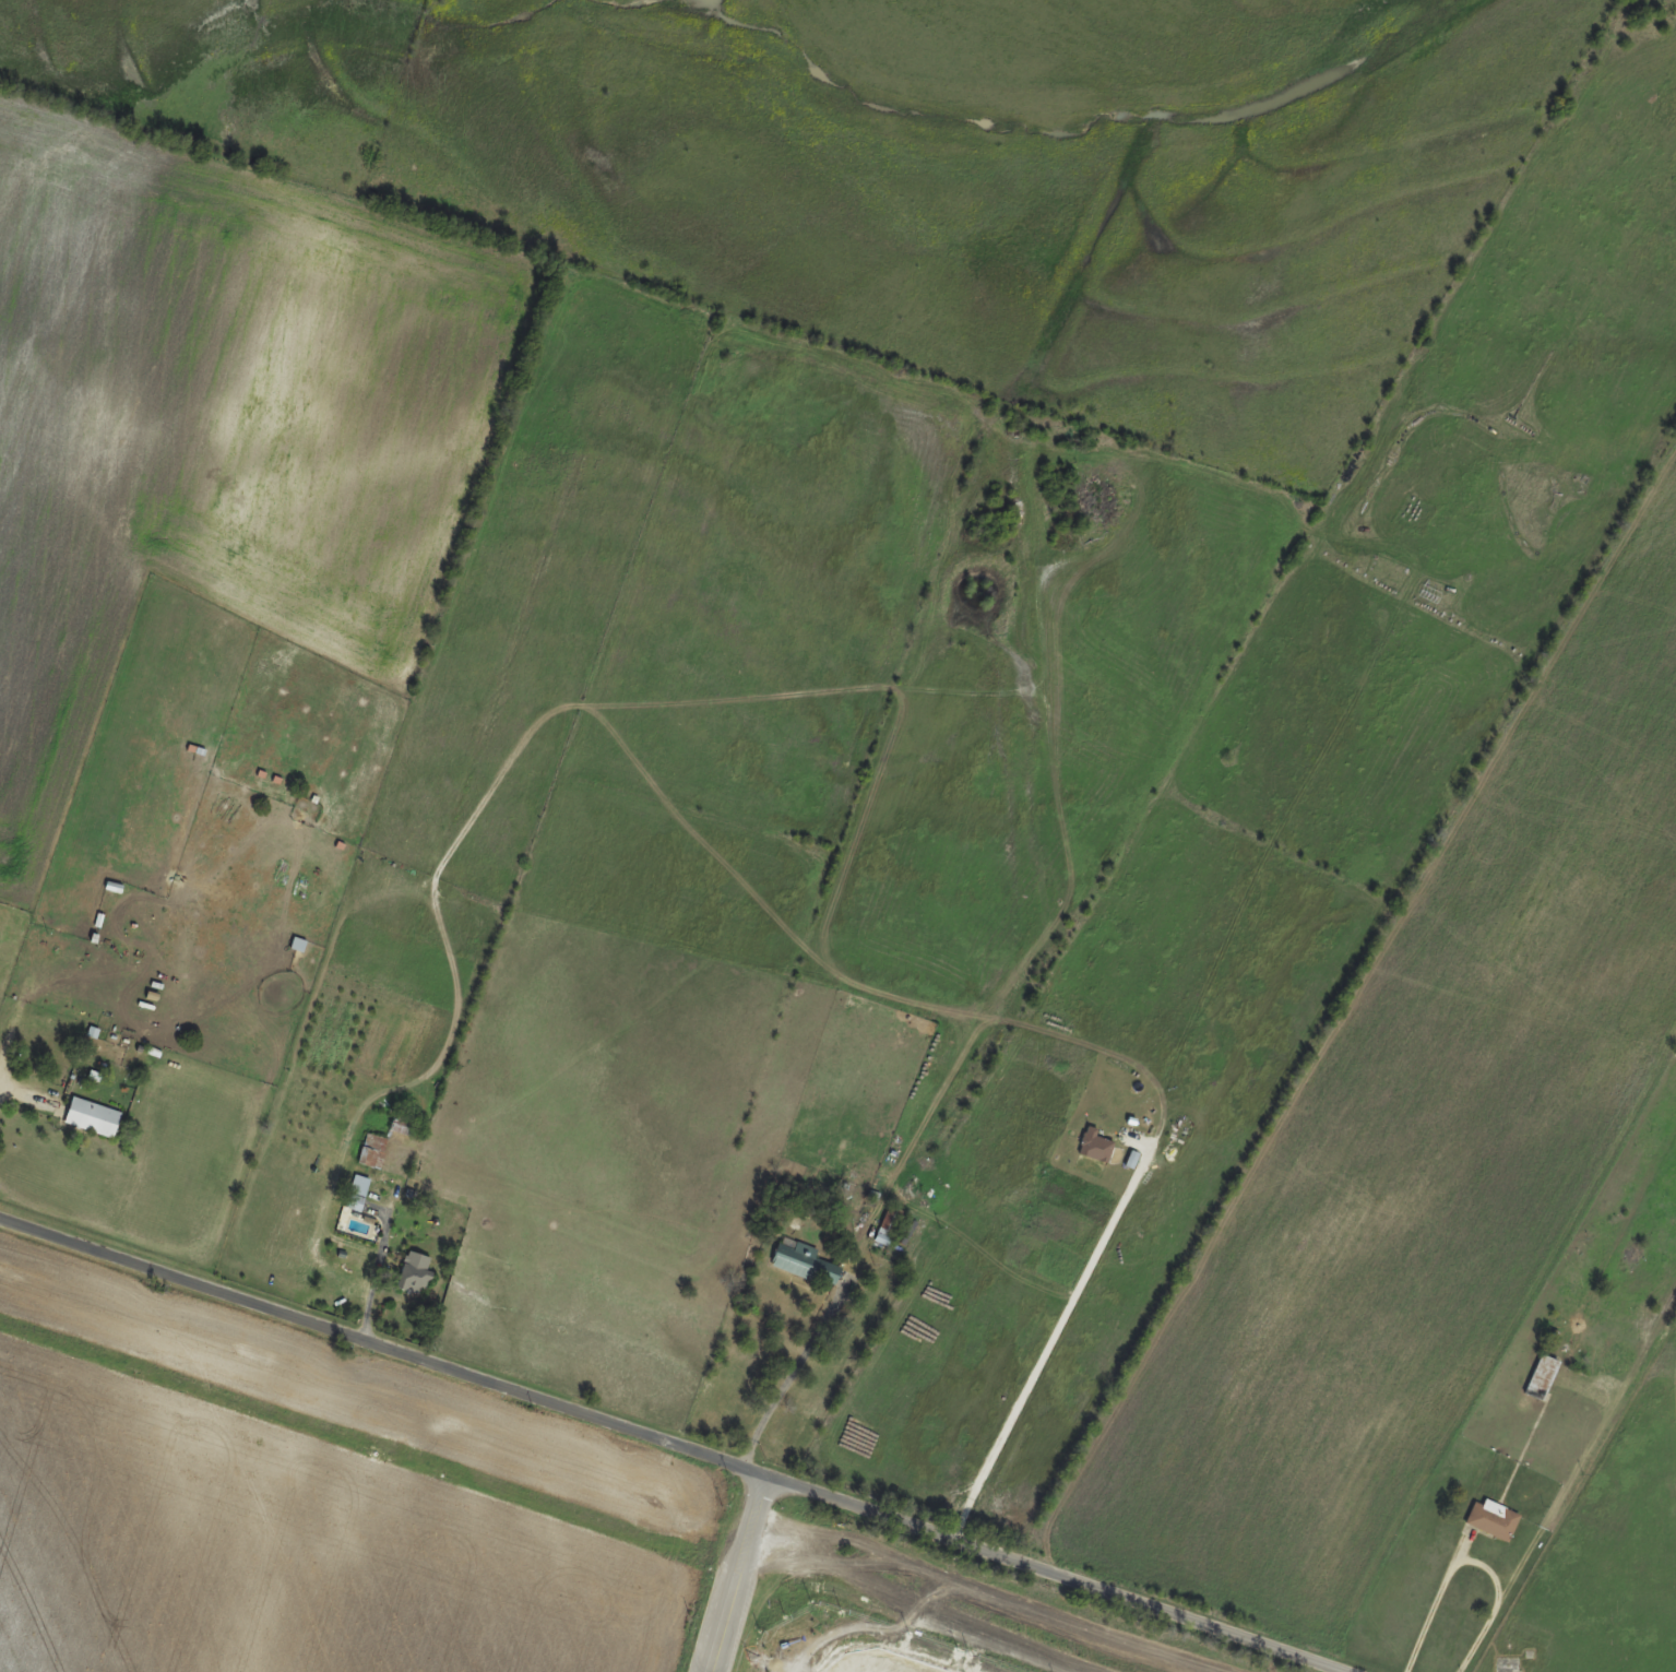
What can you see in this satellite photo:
building: (298, 945)
building: (93, 1117)
building: (401, 1122)
building: (360, 1186)
building: (890, 1226)
building: (1632, 1260)
building: (806, 1262)
building: (414, 1272)
road: (1048, 1344)
road: (793, 1371)
building: (1541, 1377)
road: (679, 1452)
building: (1493, 1519)
road: (1470, 1560)
road: (734, 1574)

